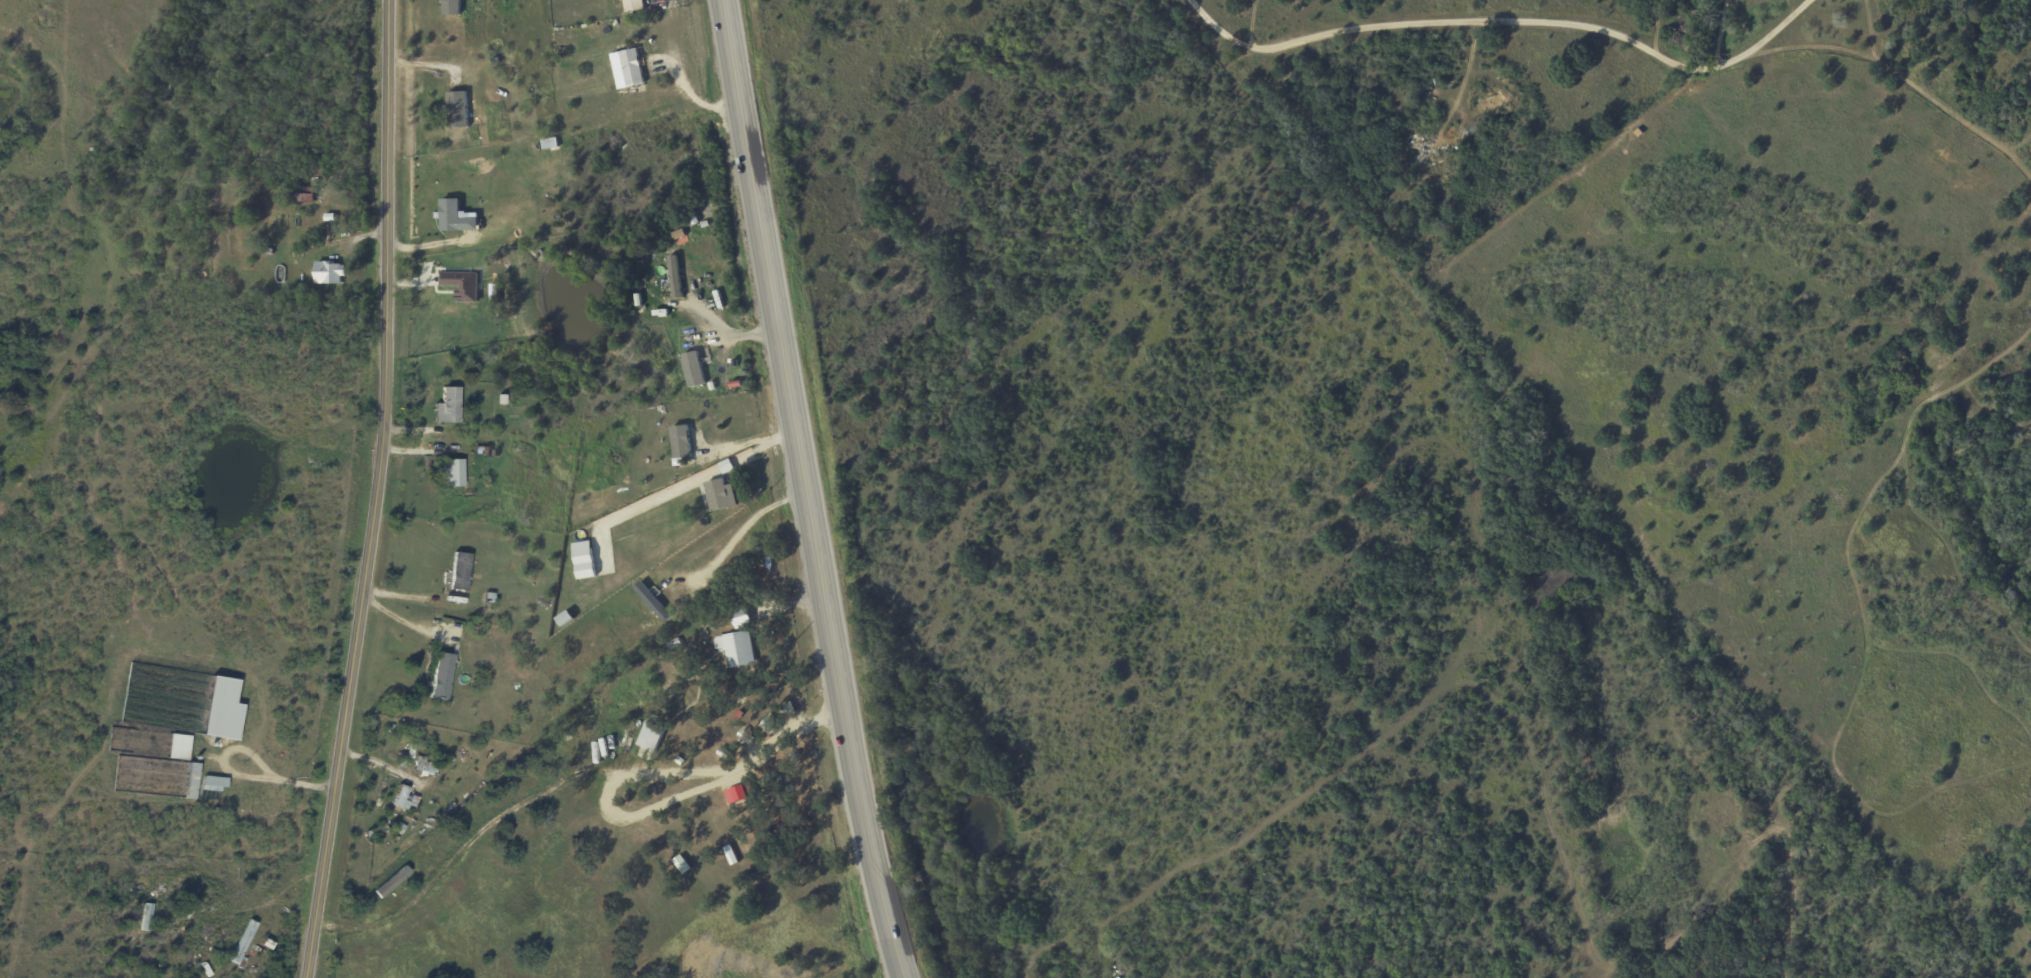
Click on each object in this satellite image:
building: (633, 5)
building: (452, 7)
road: (1495, 26)
road: (1719, 30)
building: (632, 67)
road: (1895, 78)
building: (457, 109)
building: (549, 143)
building: (455, 216)
building: (328, 273)
building: (674, 276)
building: (461, 284)
building: (493, 293)
building: (693, 369)
building: (448, 405)
building: (681, 441)
building: (720, 468)
building: (455, 472)
road: (804, 490)
road: (376, 491)
building: (720, 495)
road: (740, 529)
building: (584, 560)
building: (460, 571)
building: (652, 602)
building: (740, 617)
road: (400, 619)
building: (736, 648)
building: (442, 675)
building: (223, 709)
building: (651, 736)
building: (179, 746)
road: (381, 759)
building: (423, 765)
road: (737, 768)
road: (241, 775)
building: (192, 780)
building: (213, 783)
building: (740, 793)
building: (400, 797)
road: (646, 809)
building: (666, 843)
building: (740, 847)
road: (463, 848)
building: (682, 864)
building: (146, 916)
building: (242, 942)

